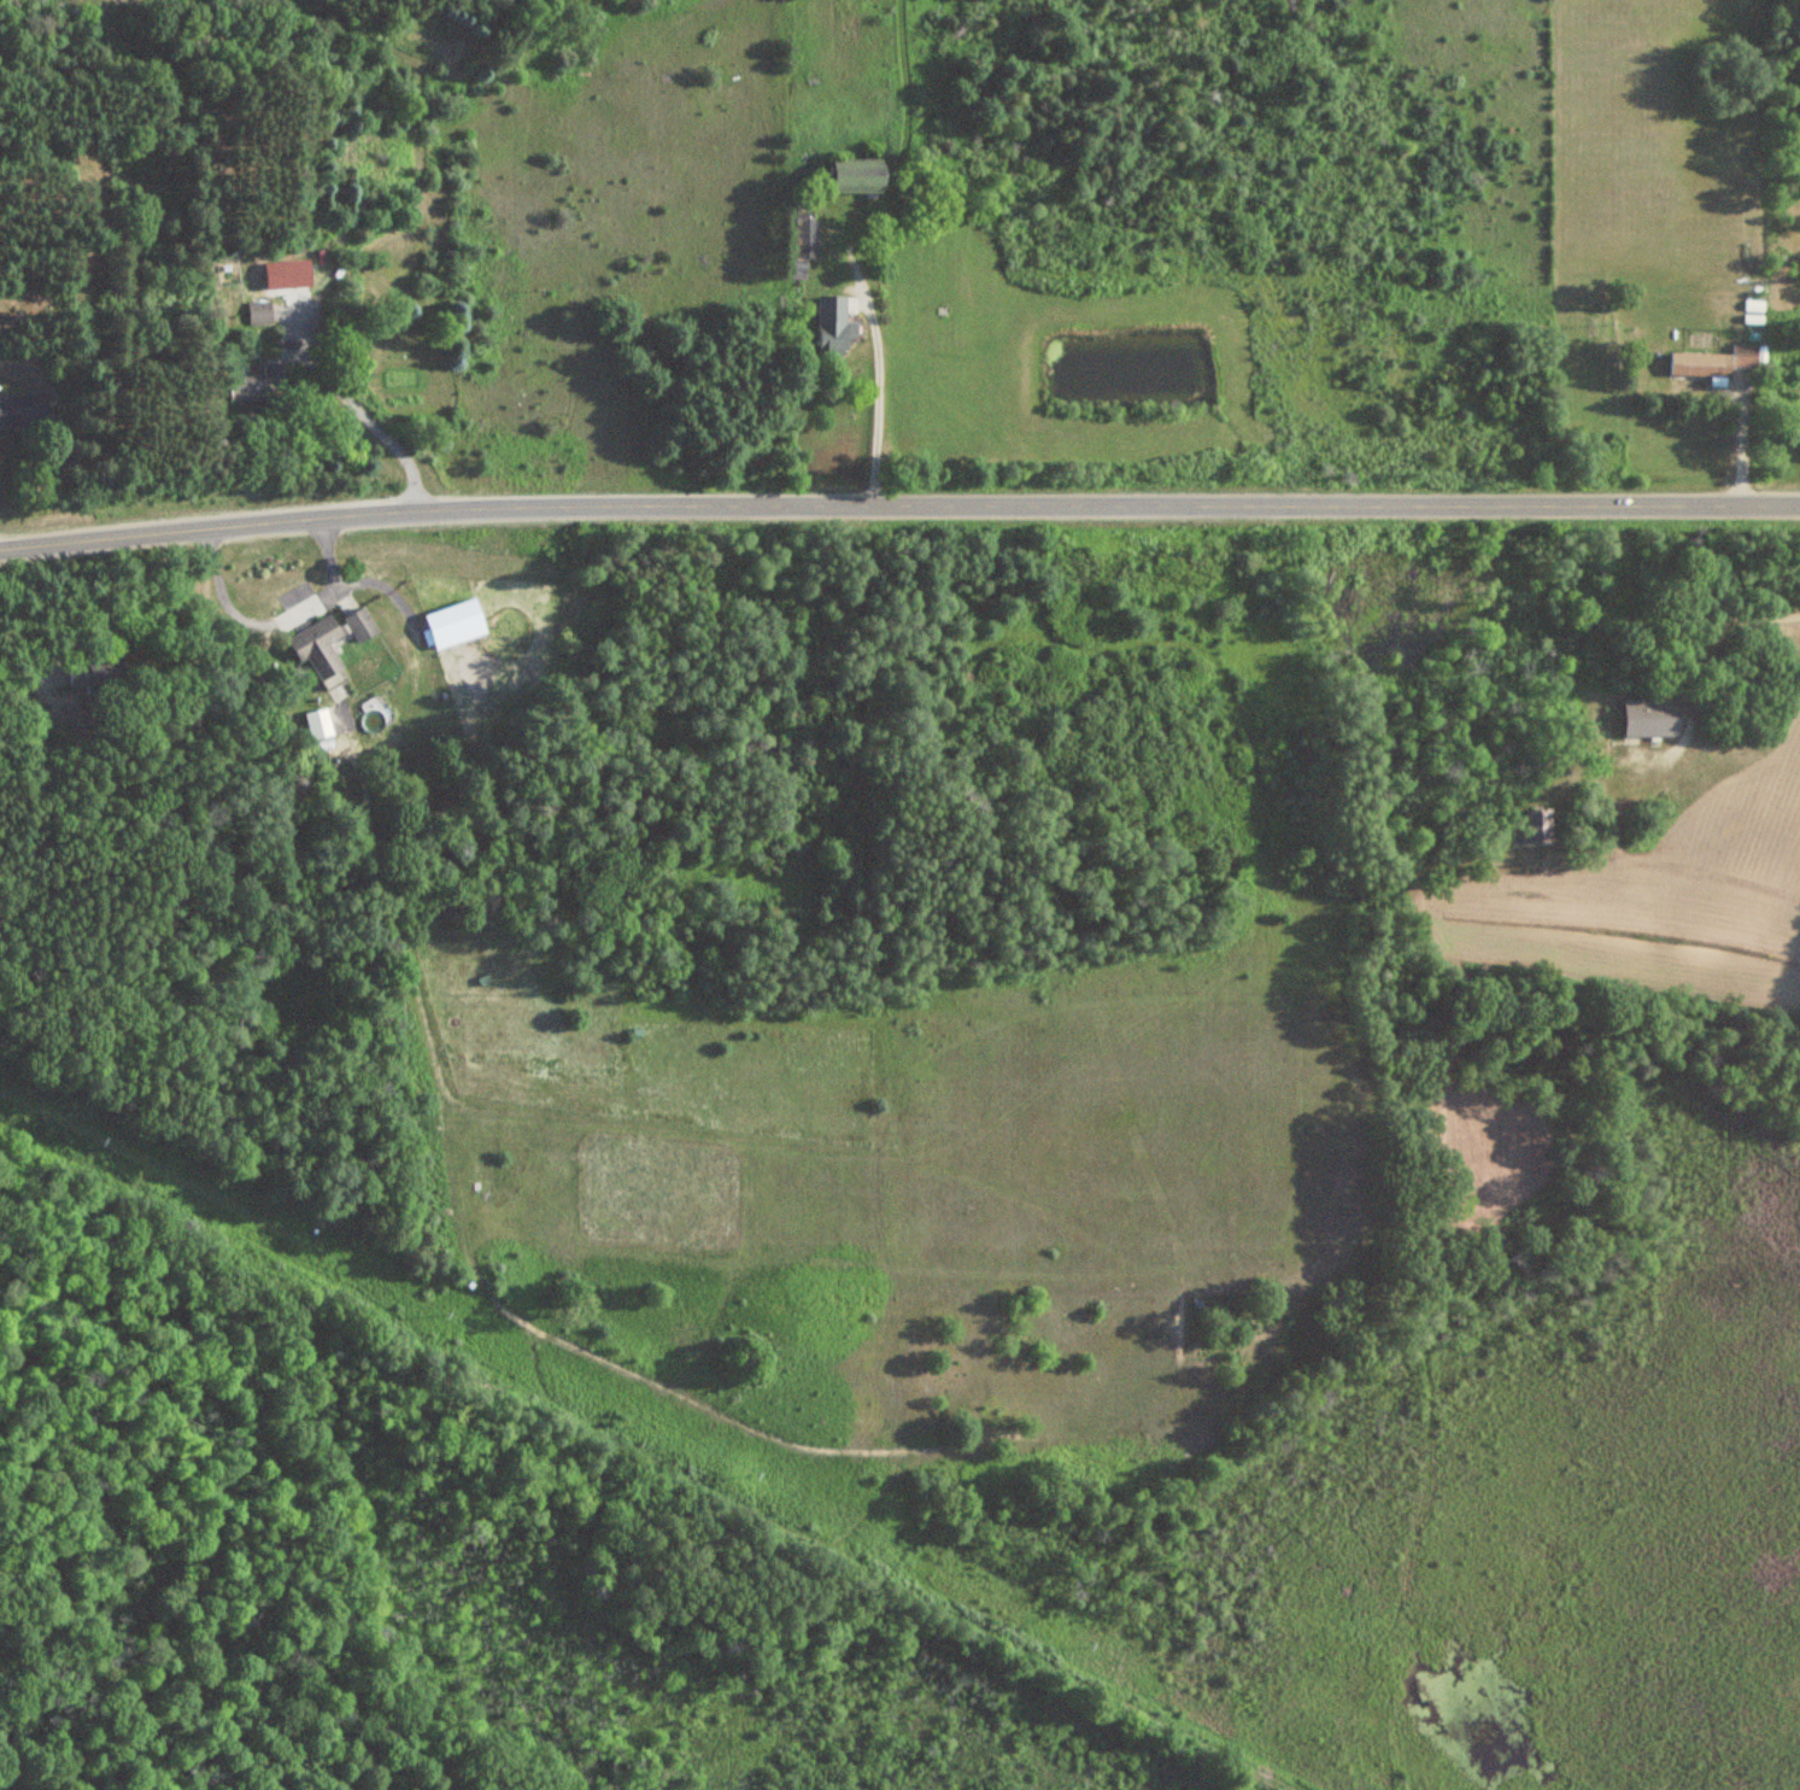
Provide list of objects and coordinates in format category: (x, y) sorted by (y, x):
building: (860, 180)
building: (260, 314)
building: (831, 322)
building: (1711, 363)
building: (260, 384)
building: (25, 410)
road: (898, 504)
building: (362, 625)
building: (319, 647)
building: (1652, 718)
building: (317, 724)
building: (1536, 826)

